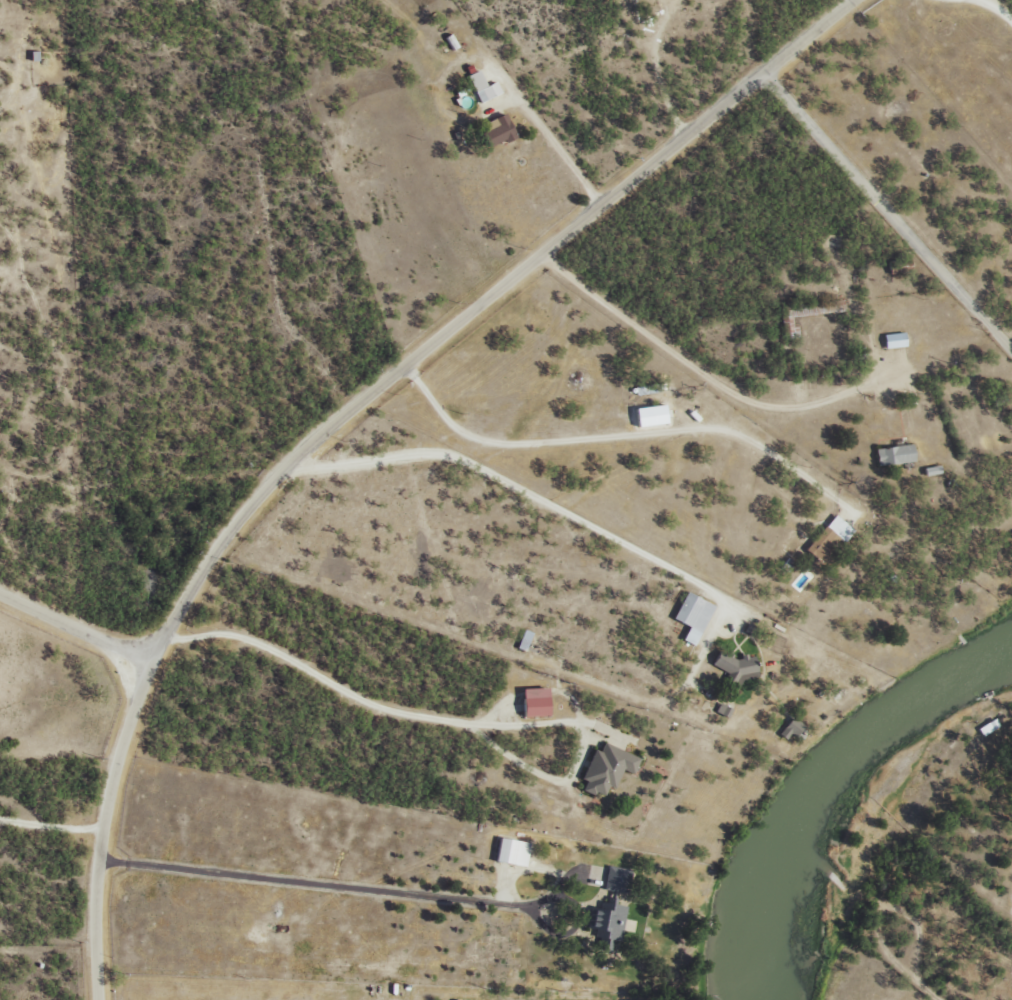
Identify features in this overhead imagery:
building: (481, 86)
building: (494, 130)
road: (886, 210)
road: (472, 307)
building: (892, 339)
building: (647, 415)
building: (892, 454)
building: (825, 538)
building: (691, 615)
road: (74, 626)
building: (734, 668)
road: (314, 674)
building: (531, 702)
building: (721, 710)
building: (986, 726)
building: (788, 728)
building: (604, 768)
road: (99, 827)
building: (509, 851)
building: (613, 878)
building: (604, 924)

